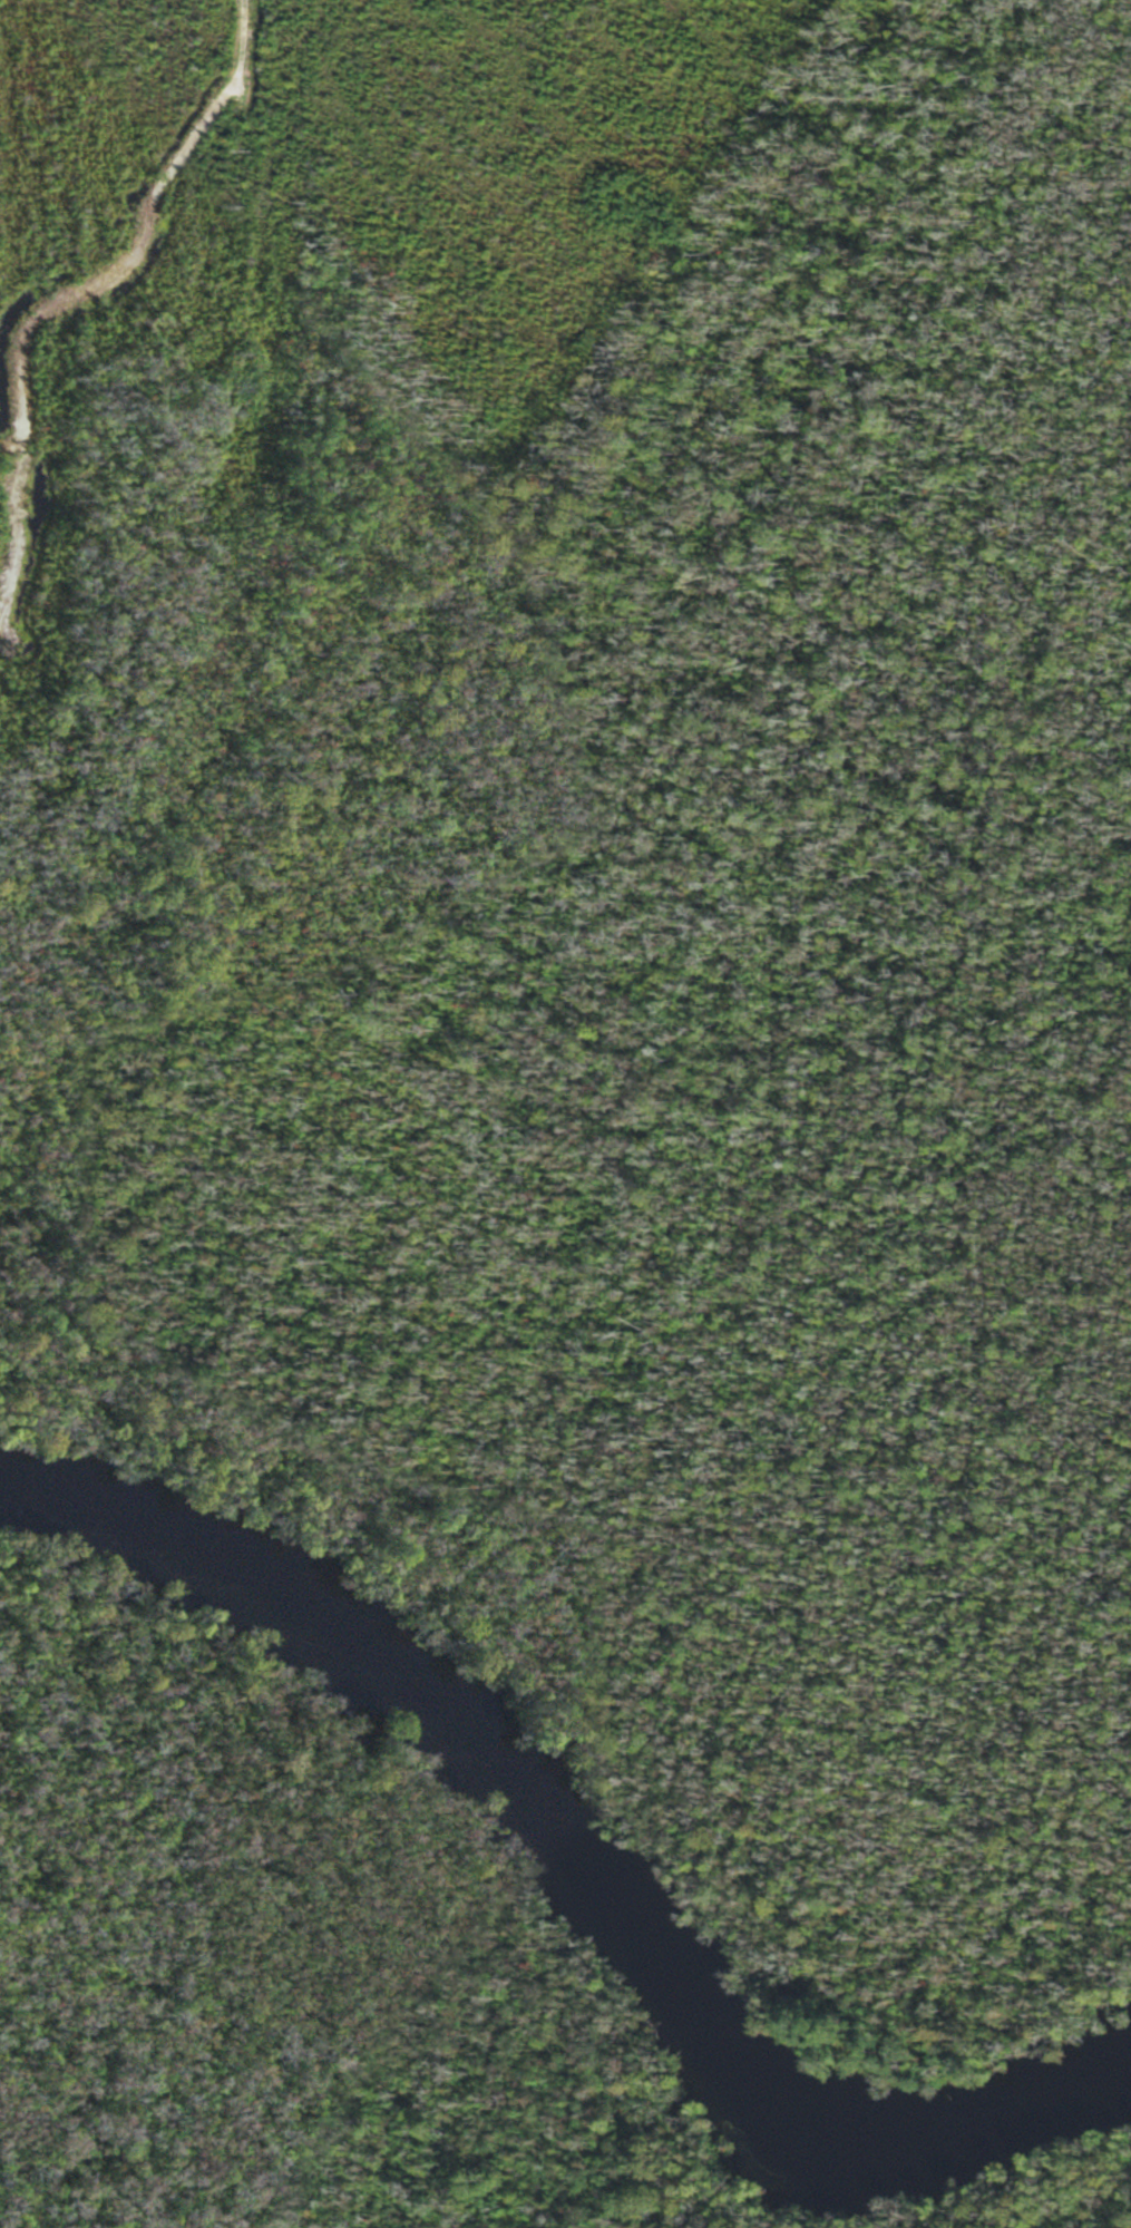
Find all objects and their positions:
river: (573, 1874)

